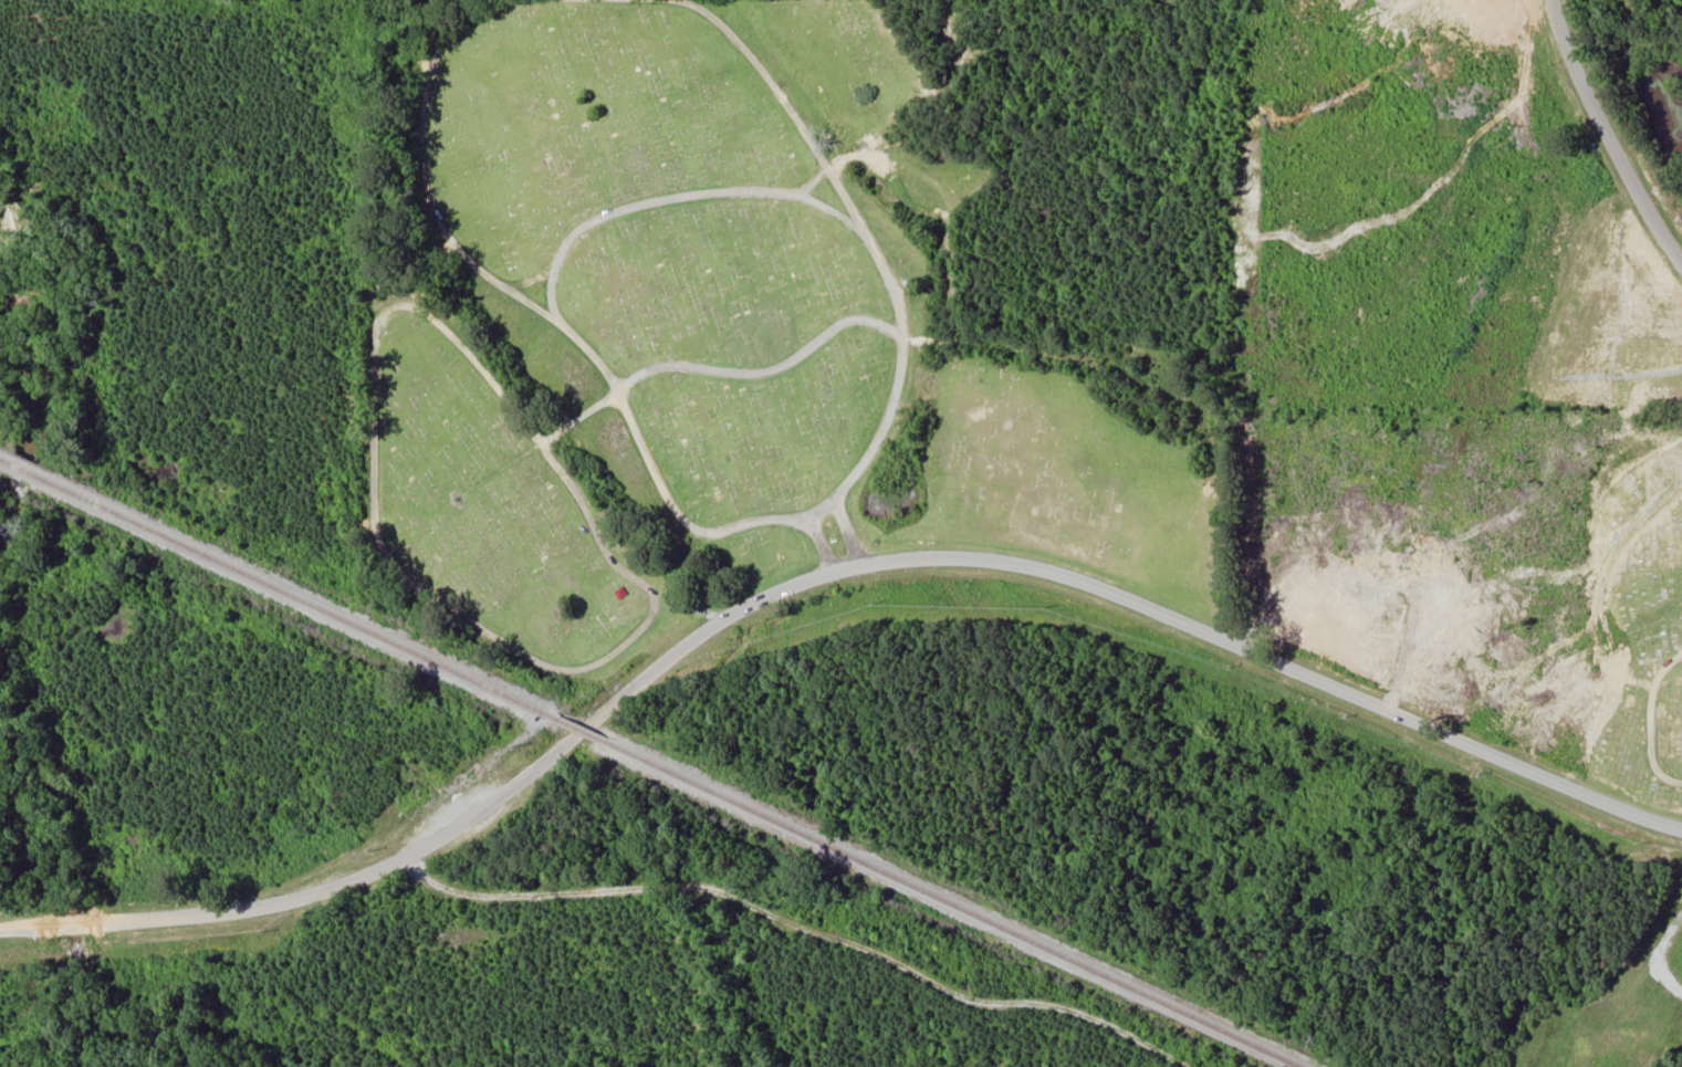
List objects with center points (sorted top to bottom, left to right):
road: (1603, 130)
road: (659, 198)
road: (882, 259)
road: (572, 336)
road: (723, 368)
road: (568, 481)
road: (364, 543)
road: (819, 572)
railway: (276, 587)
railway: (579, 728)
railway: (954, 903)

